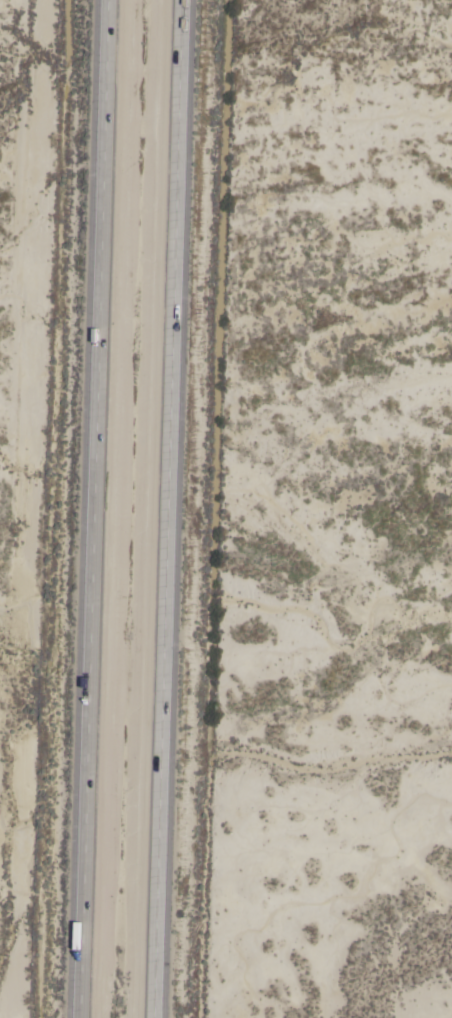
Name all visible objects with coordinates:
road: (90, 508)
road: (166, 509)

